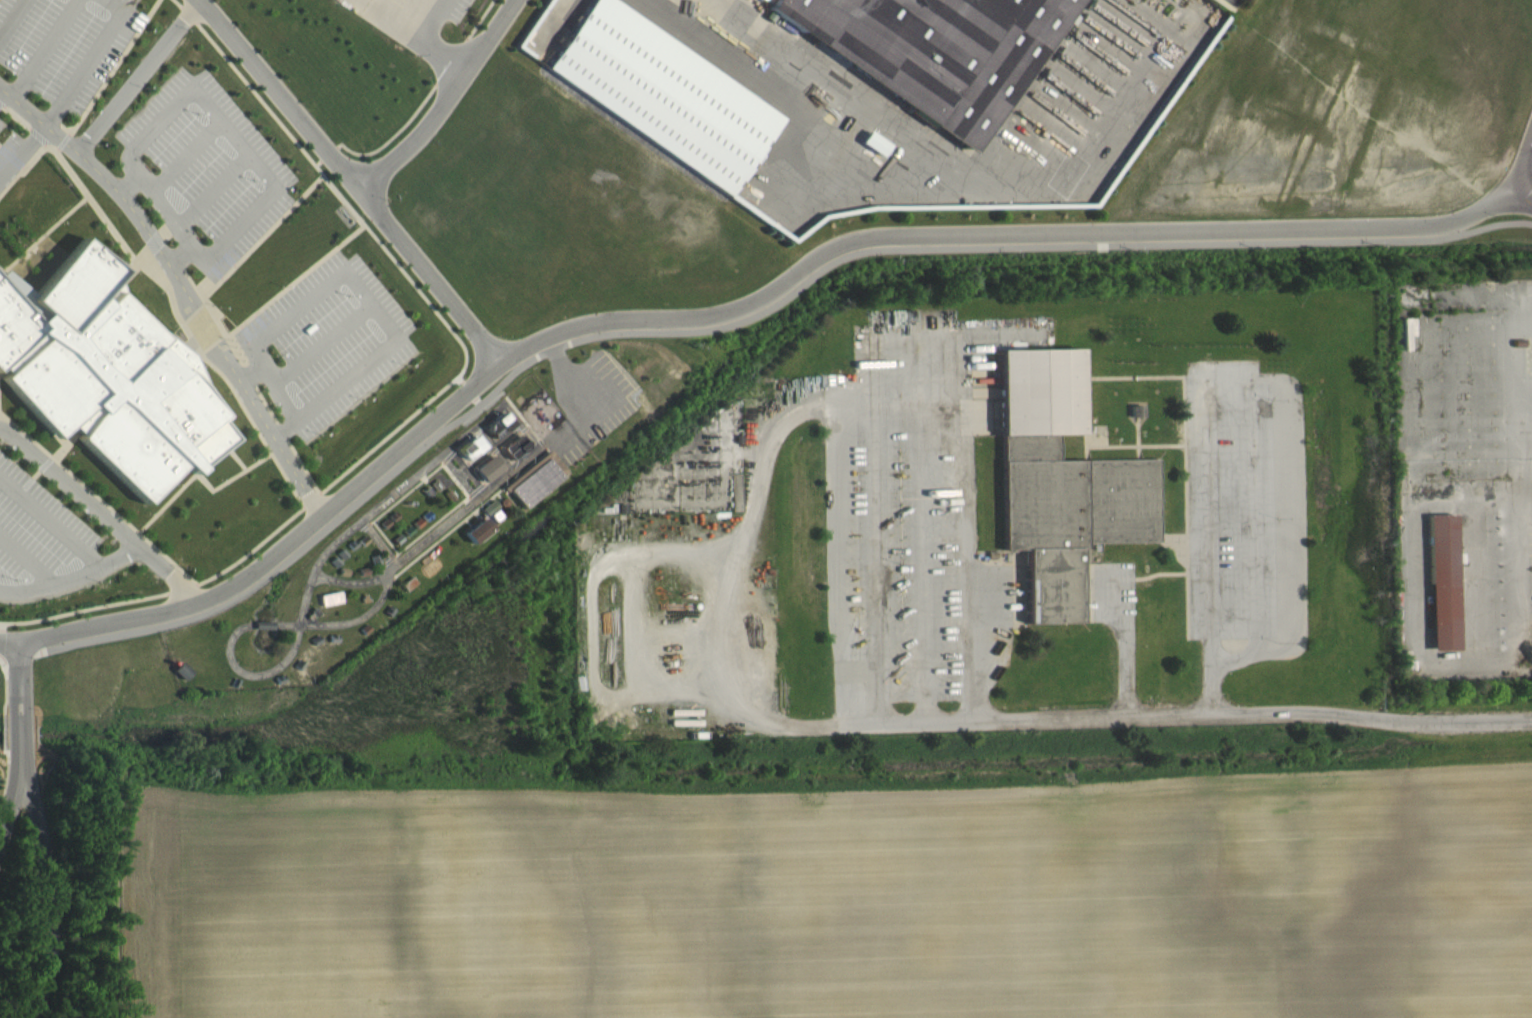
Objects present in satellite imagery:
parking lot: (1236, 3)
parking lot: (460, 10)
road: (383, 16)
road: (13, 19)
road: (433, 20)
road: (490, 35)
parking lot: (62, 44)
road: (45, 49)
road: (437, 51)
building: (939, 52)
road: (88, 60)
road: (102, 75)
road: (136, 75)
road: (2, 92)
road: (274, 93)
road: (418, 109)
building: (654, 111)
road: (218, 121)
road: (418, 137)
road: (21, 147)
road: (185, 158)
road: (21, 165)
road: (1524, 166)
parking lot: (200, 168)
road: (70, 178)
road: (129, 185)
road: (211, 192)
road: (1007, 233)
road: (261, 236)
road: (425, 273)
road: (358, 281)
road: (178, 287)
road: (729, 324)
road: (322, 340)
parking lot: (323, 341)
road: (216, 370)
building: (105, 374)
road: (251, 375)
road: (1255, 379)
road: (437, 392)
parking lot: (595, 393)
road: (890, 396)
road: (1525, 434)
road: (69, 472)
road: (198, 476)
road: (102, 512)
road: (1255, 515)
road: (52, 522)
parking lot: (43, 540)
building: (476, 541)
road: (283, 550)
road: (167, 557)
road: (29, 559)
road: (922, 559)
road: (878, 560)
road: (74, 581)
building: (328, 609)
road: (592, 609)
road: (8, 641)
road: (1, 655)
road: (1425, 657)
road: (1127, 662)
road: (6, 684)
road: (19, 706)
road: (1119, 716)
road: (5, 730)
road: (6, 775)
road: (13, 813)
road: (52, 894)

